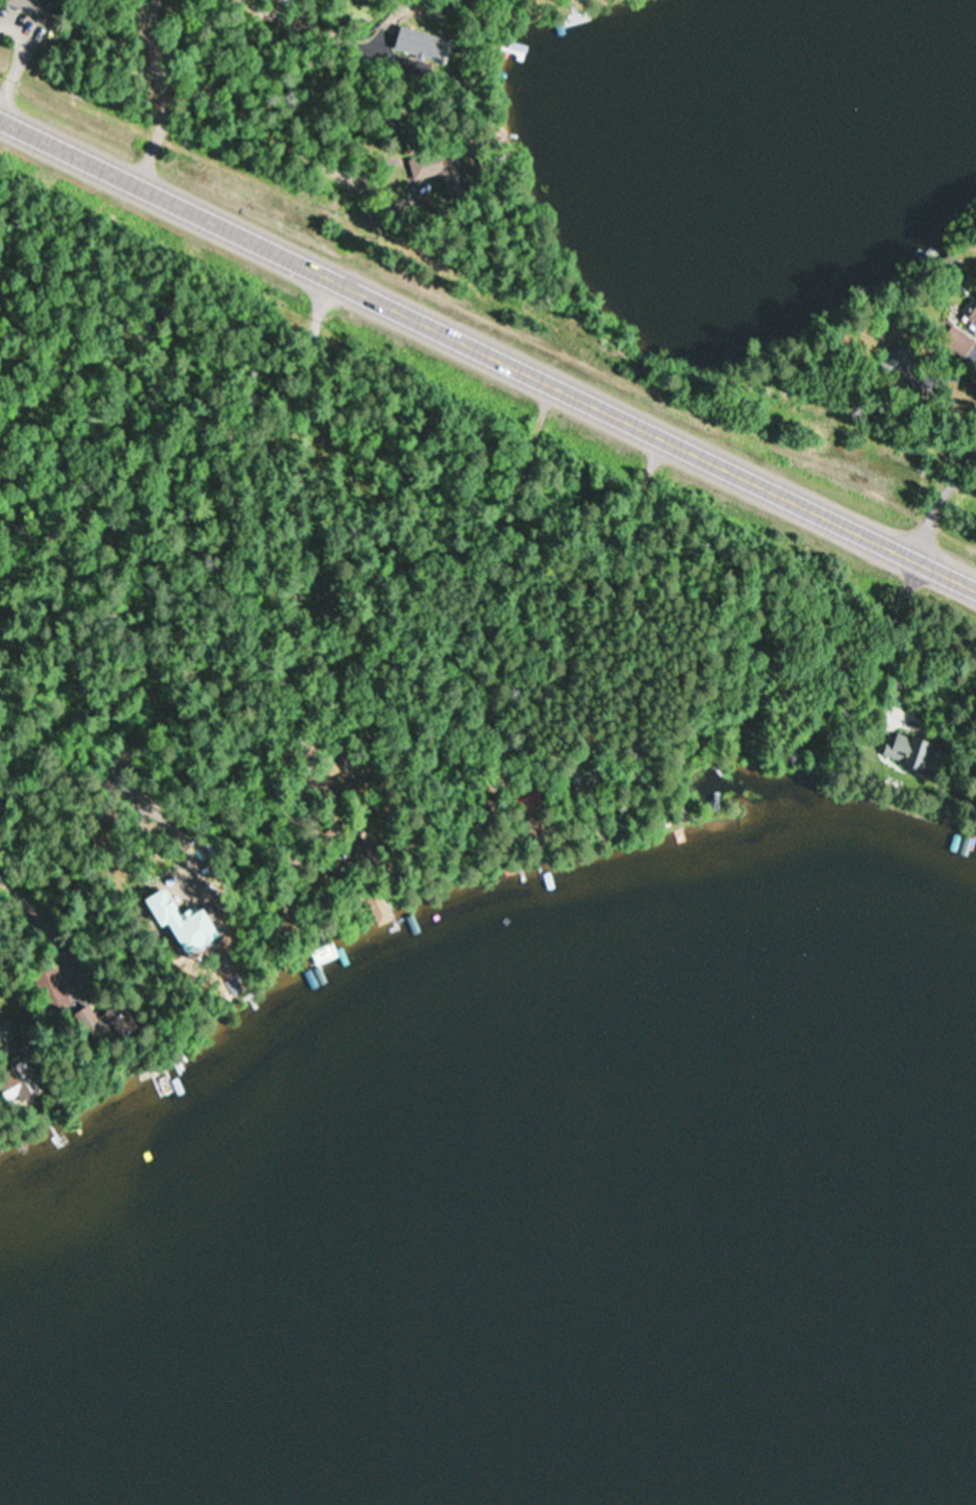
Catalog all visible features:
building: (29, 8)
road: (454, 20)
building: (431, 162)
building: (953, 262)
building: (971, 318)
building: (956, 341)
road: (487, 350)
building: (900, 363)
road: (937, 490)
building: (911, 751)
building: (338, 763)
building: (527, 803)
building: (367, 833)
building: (378, 909)
building: (323, 953)
building: (52, 990)
road: (9, 1000)
building: (103, 1020)
building: (20, 1082)

